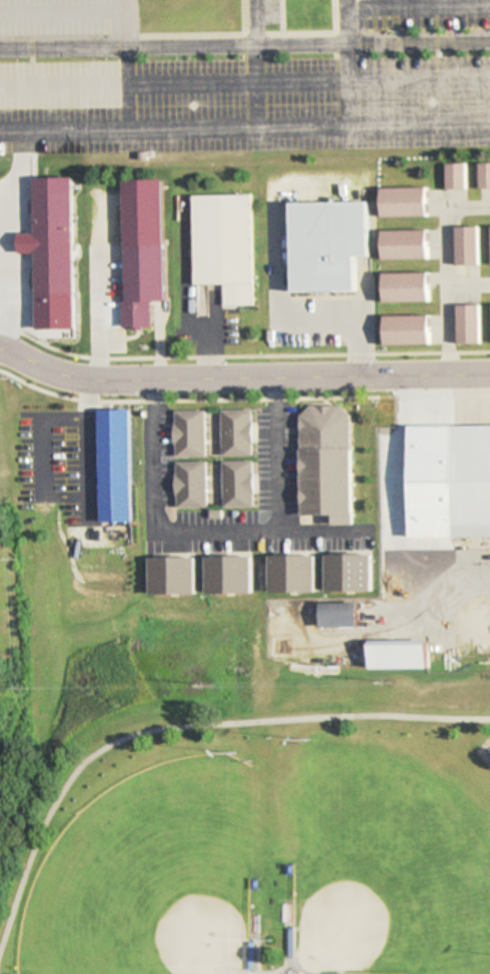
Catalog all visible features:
road: (413, 7)
road: (58, 11)
parking lot: (263, 14)
parking lot: (64, 19)
road: (337, 21)
road: (248, 22)
road: (414, 41)
road: (168, 45)
road: (118, 64)
road: (245, 81)
road: (339, 83)
road: (249, 85)
parking lot: (269, 91)
road: (245, 127)
building: (454, 176)
building: (483, 176)
building: (403, 202)
building: (55, 236)
building: (224, 244)
building: (328, 245)
building: (404, 245)
building: (465, 246)
road: (435, 266)
building: (143, 281)
building: (405, 288)
road: (175, 308)
road: (88, 315)
road: (338, 319)
building: (467, 324)
building: (406, 330)
road: (242, 352)
road: (242, 377)
road: (242, 397)
building: (237, 433)
building: (190, 434)
building: (110, 441)
road: (432, 476)
building: (468, 476)
building: (238, 484)
building: (191, 485)
road: (56, 496)
road: (204, 529)
building: (349, 574)
building: (292, 575)
building: (229, 576)
building: (173, 577)
building: (340, 616)
building: (400, 656)
road: (466, 709)
road: (191, 727)
park: (246, 828)
park: (386, 866)
park: (149, 879)
road: (277, 961)

